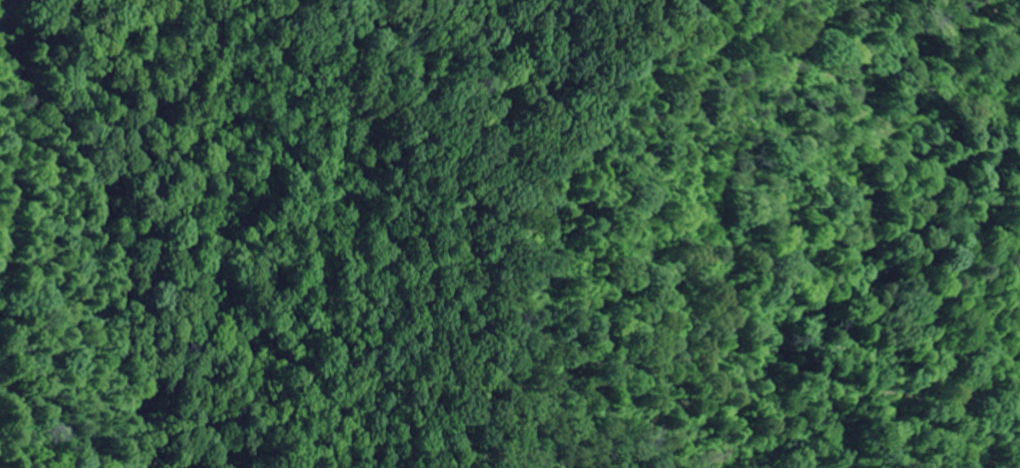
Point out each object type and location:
road: (8, 9)

